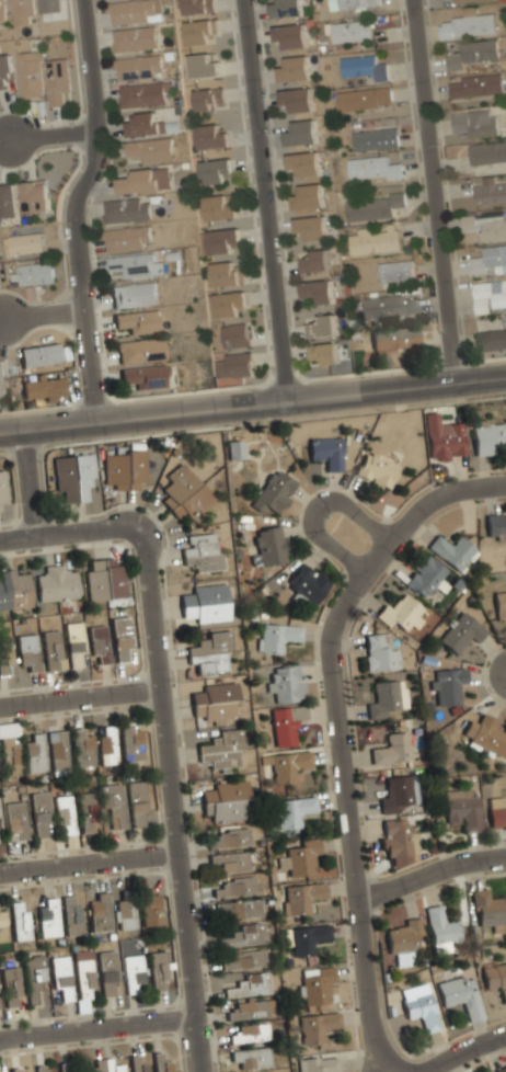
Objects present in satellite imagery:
building: (462, 1)
building: (356, 2)
building: (49, 5)
building: (196, 5)
building: (288, 8)
building: (2, 10)
building: (22, 11)
building: (133, 11)
building: (468, 23)
building: (349, 28)
building: (199, 30)
building: (290, 35)
building: (135, 37)
building: (471, 52)
building: (202, 65)
building: (139, 66)
building: (295, 67)
building: (361, 67)
building: (5, 71)
building: (30, 75)
building: (56, 80)
building: (475, 84)
building: (145, 93)
building: (299, 98)
building: (364, 98)
building: (208, 99)
building: (474, 122)
building: (143, 123)
building: (302, 132)
road: (50, 134)
building: (210, 136)
building: (375, 138)
building: (150, 149)
building: (487, 151)
building: (306, 161)
building: (372, 168)
building: (214, 169)
building: (143, 180)
road: (433, 191)
building: (488, 192)
building: (35, 195)
building: (309, 196)
road: (265, 199)
building: (8, 201)
building: (219, 206)
building: (372, 206)
road: (72, 208)
building: (126, 208)
building: (484, 225)
building: (313, 226)
building: (127, 237)
building: (221, 239)
building: (373, 239)
building: (25, 243)
building: (315, 260)
building: (488, 260)
building: (133, 263)
building: (395, 270)
building: (227, 273)
building: (36, 274)
building: (319, 289)
building: (134, 293)
building: (488, 294)
building: (230, 303)
building: (390, 305)
road: (42, 313)
building: (138, 320)
building: (323, 324)
building: (235, 334)
building: (394, 337)
building: (491, 339)
building: (139, 349)
building: (324, 352)
building: (39, 355)
building: (233, 364)
building: (148, 375)
building: (2, 384)
building: (44, 388)
road: (252, 403)
building: (487, 437)
building: (445, 438)
building: (235, 449)
building: (326, 453)
building: (125, 469)
building: (376, 470)
building: (73, 477)
road: (30, 480)
building: (2, 487)
building: (184, 492)
building: (273, 492)
building: (495, 524)
road: (71, 531)
road: (346, 537)
building: (269, 546)
building: (452, 550)
building: (202, 554)
building: (425, 575)
building: (104, 578)
building: (55, 582)
building: (14, 588)
building: (499, 601)
building: (205, 604)
building: (399, 613)
building: (461, 630)
building: (277, 637)
building: (120, 638)
building: (73, 643)
building: (97, 643)
building: (51, 649)
building: (26, 652)
building: (379, 652)
building: (209, 653)
building: (5, 654)
building: (285, 684)
building: (447, 684)
road: (82, 696)
building: (384, 698)
building: (214, 703)
building: (286, 725)
road: (345, 731)
building: (485, 735)
building: (130, 742)
building: (107, 743)
building: (81, 746)
building: (9, 748)
building: (58, 749)
building: (392, 749)
building: (221, 751)
building: (33, 752)
building: (285, 765)
building: (396, 794)
road: (179, 799)
building: (225, 800)
building: (114, 801)
building: (137, 802)
building: (85, 811)
building: (294, 811)
building: (463, 812)
building: (41, 813)
building: (65, 813)
building: (497, 816)
building: (14, 820)
building: (230, 839)
building: (398, 842)
building: (301, 858)
road: (92, 859)
building: (230, 862)
road: (435, 868)
building: (234, 888)
building: (301, 898)
building: (149, 906)
building: (124, 910)
building: (240, 910)
building: (488, 910)
building: (97, 912)
building: (70, 914)
building: (46, 916)
building: (18, 920)
building: (1, 924)
building: (439, 928)
building: (243, 936)
building: (404, 936)
building: (306, 938)
building: (241, 960)
building: (158, 969)
building: (106, 970)
building: (133, 972)
building: (60, 974)
building: (34, 977)
building: (83, 977)
building: (495, 978)
building: (317, 984)
building: (11, 985)
building: (249, 985)
building: (460, 993)
building: (419, 1005)
building: (246, 1010)
road: (99, 1027)
building: (318, 1027)
building: (250, 1034)
road: (458, 1051)
building: (251, 1058)
building: (161, 1063)
building: (137, 1064)
building: (104, 1067)
building: (67, 1068)
building: (44, 1069)
building: (15, 1070)
building: (501, 1070)

